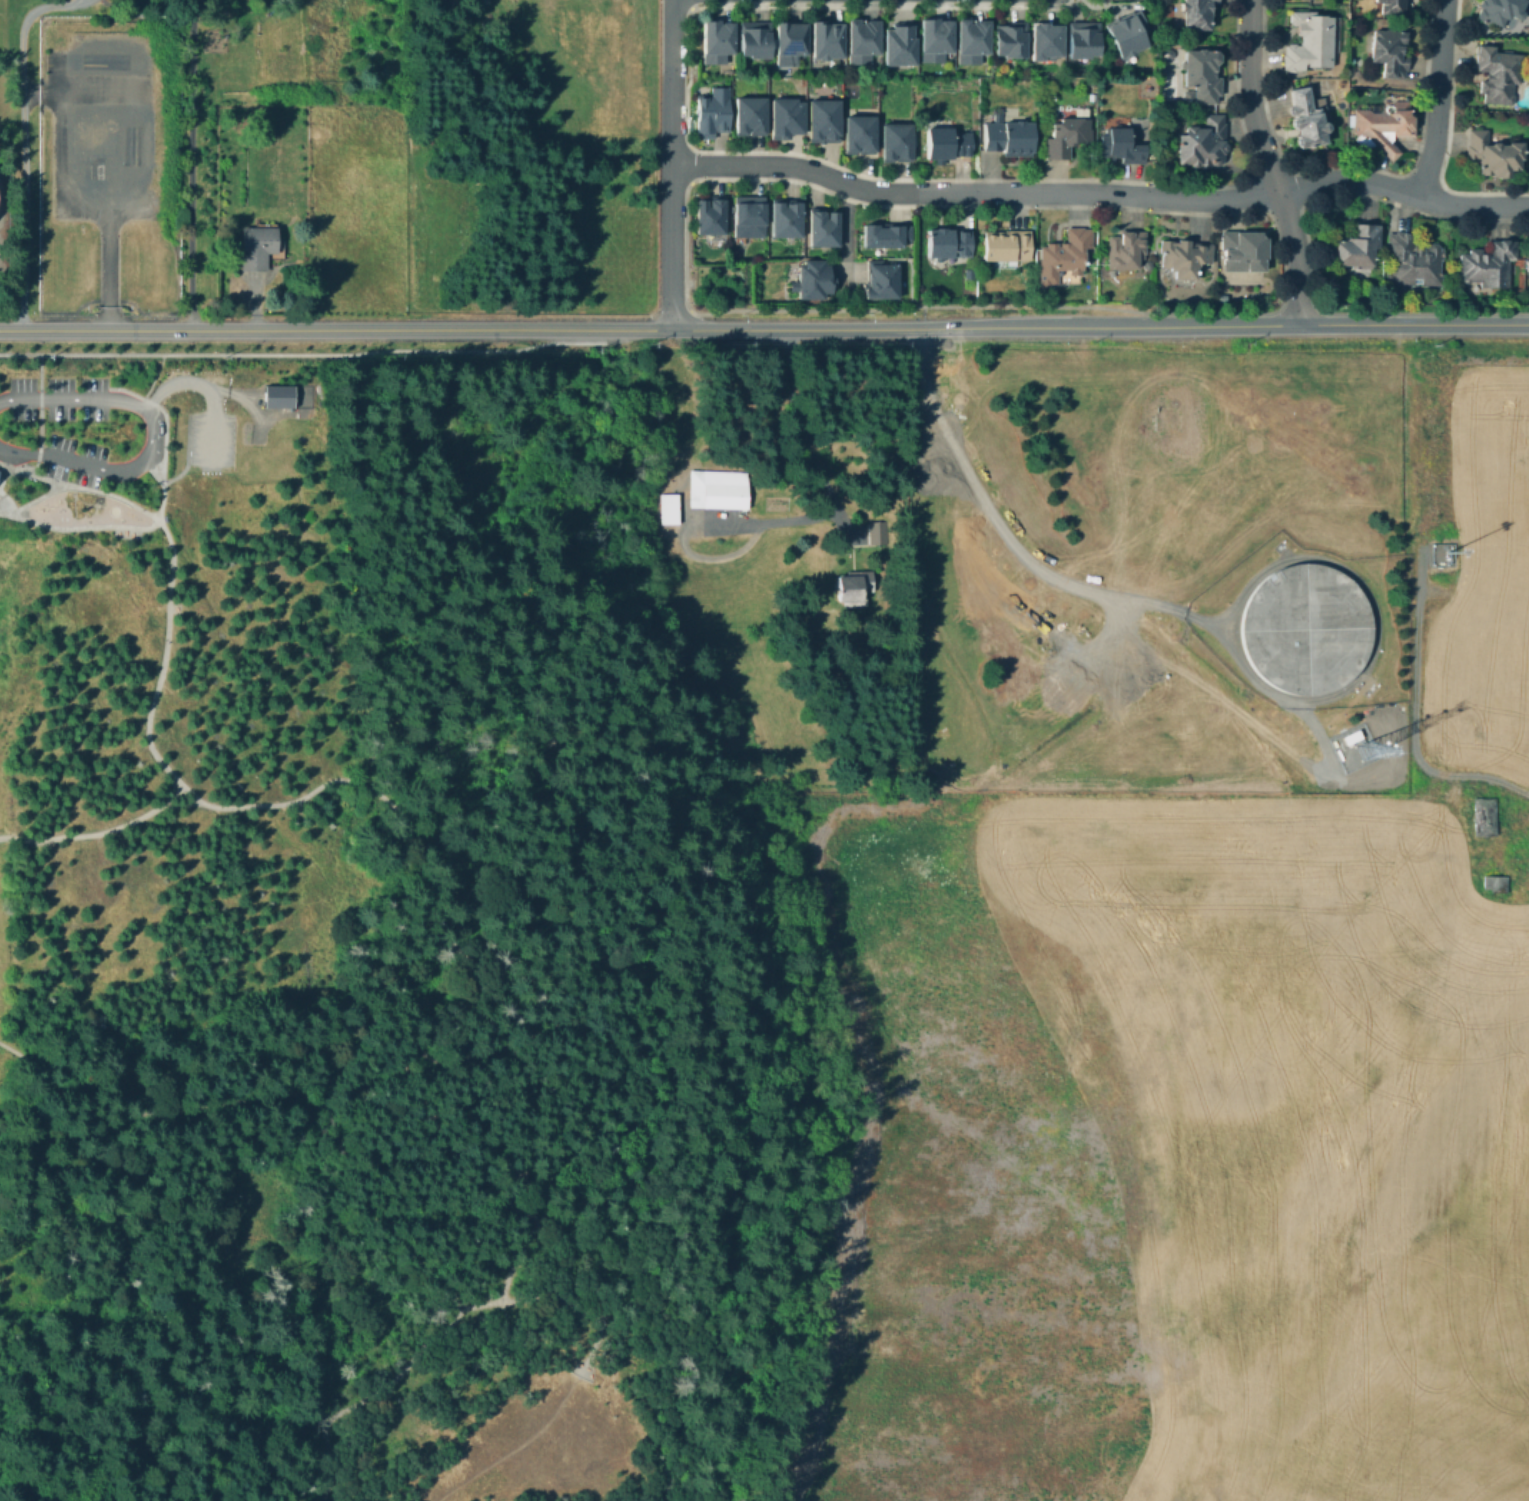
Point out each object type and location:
road: (85, 0)
road: (762, 3)
road: (795, 3)
road: (687, 4)
building: (1392, 6)
building: (1498, 12)
building: (1196, 13)
building: (1126, 34)
building: (718, 40)
building: (756, 41)
building: (1311, 41)
building: (1083, 42)
building: (936, 43)
building: (1010, 43)
building: (1046, 43)
building: (828, 44)
building: (863, 44)
building: (973, 44)
building: (791, 45)
building: (899, 45)
building: (1390, 54)
building: (1202, 75)
building: (1499, 77)
road: (1438, 99)
building: (714, 113)
building: (752, 116)
building: (788, 119)
building: (1309, 119)
building: (826, 123)
building: (1382, 127)
building: (861, 136)
building: (1067, 136)
road: (1446, 137)
building: (1010, 140)
parking lot: (99, 141)
building: (1204, 142)
road: (25, 144)
building: (899, 144)
building: (949, 145)
building: (1121, 147)
road: (800, 153)
building: (1492, 155)
road: (1267, 163)
road: (672, 164)
road: (685, 164)
road: (190, 165)
road: (1348, 166)
road: (1289, 169)
road: (117, 172)
road: (1421, 177)
road: (1102, 191)
building: (751, 218)
building: (711, 219)
building: (788, 222)
building: (826, 231)
road: (846, 233)
building: (887, 237)
road: (1279, 243)
building: (948, 245)
road: (1306, 246)
building: (1009, 247)
building: (258, 248)
building: (1358, 249)
building: (1126, 250)
building: (1244, 253)
building: (1064, 256)
building: (1185, 259)
building: (1415, 262)
building: (1489, 265)
building: (968, 273)
building: (814, 283)
building: (882, 283)
road: (1100, 328)
road: (336, 331)
road: (340, 351)
road: (39, 373)
road: (152, 375)
road: (39, 386)
road: (204, 387)
building: (277, 395)
road: (246, 401)
parking lot: (202, 423)
road: (38, 427)
road: (38, 428)
parking lot: (152, 431)
road: (153, 434)
road: (185, 454)
road: (36, 456)
road: (56, 468)
road: (152, 469)
road: (824, 482)
road: (79, 486)
road: (22, 487)
road: (22, 487)
building: (720, 489)
road: (89, 492)
road: (32, 497)
road: (68, 499)
road: (83, 502)
road: (92, 503)
building: (666, 508)
road: (82, 509)
road: (82, 509)
road: (157, 510)
road: (73, 511)
building: (162, 517)
road: (165, 533)
building: (878, 534)
road: (1007, 541)
crop: (1482, 581)
building: (856, 589)
building: (1303, 629)
storage tank: (1303, 629)
road: (157, 685)
road: (1412, 720)
road: (169, 794)
building: (1486, 820)
building: (1497, 883)
road: (405, 1048)
crop: (1193, 1153)
road: (567, 1301)
road: (590, 1368)
road: (363, 1399)

